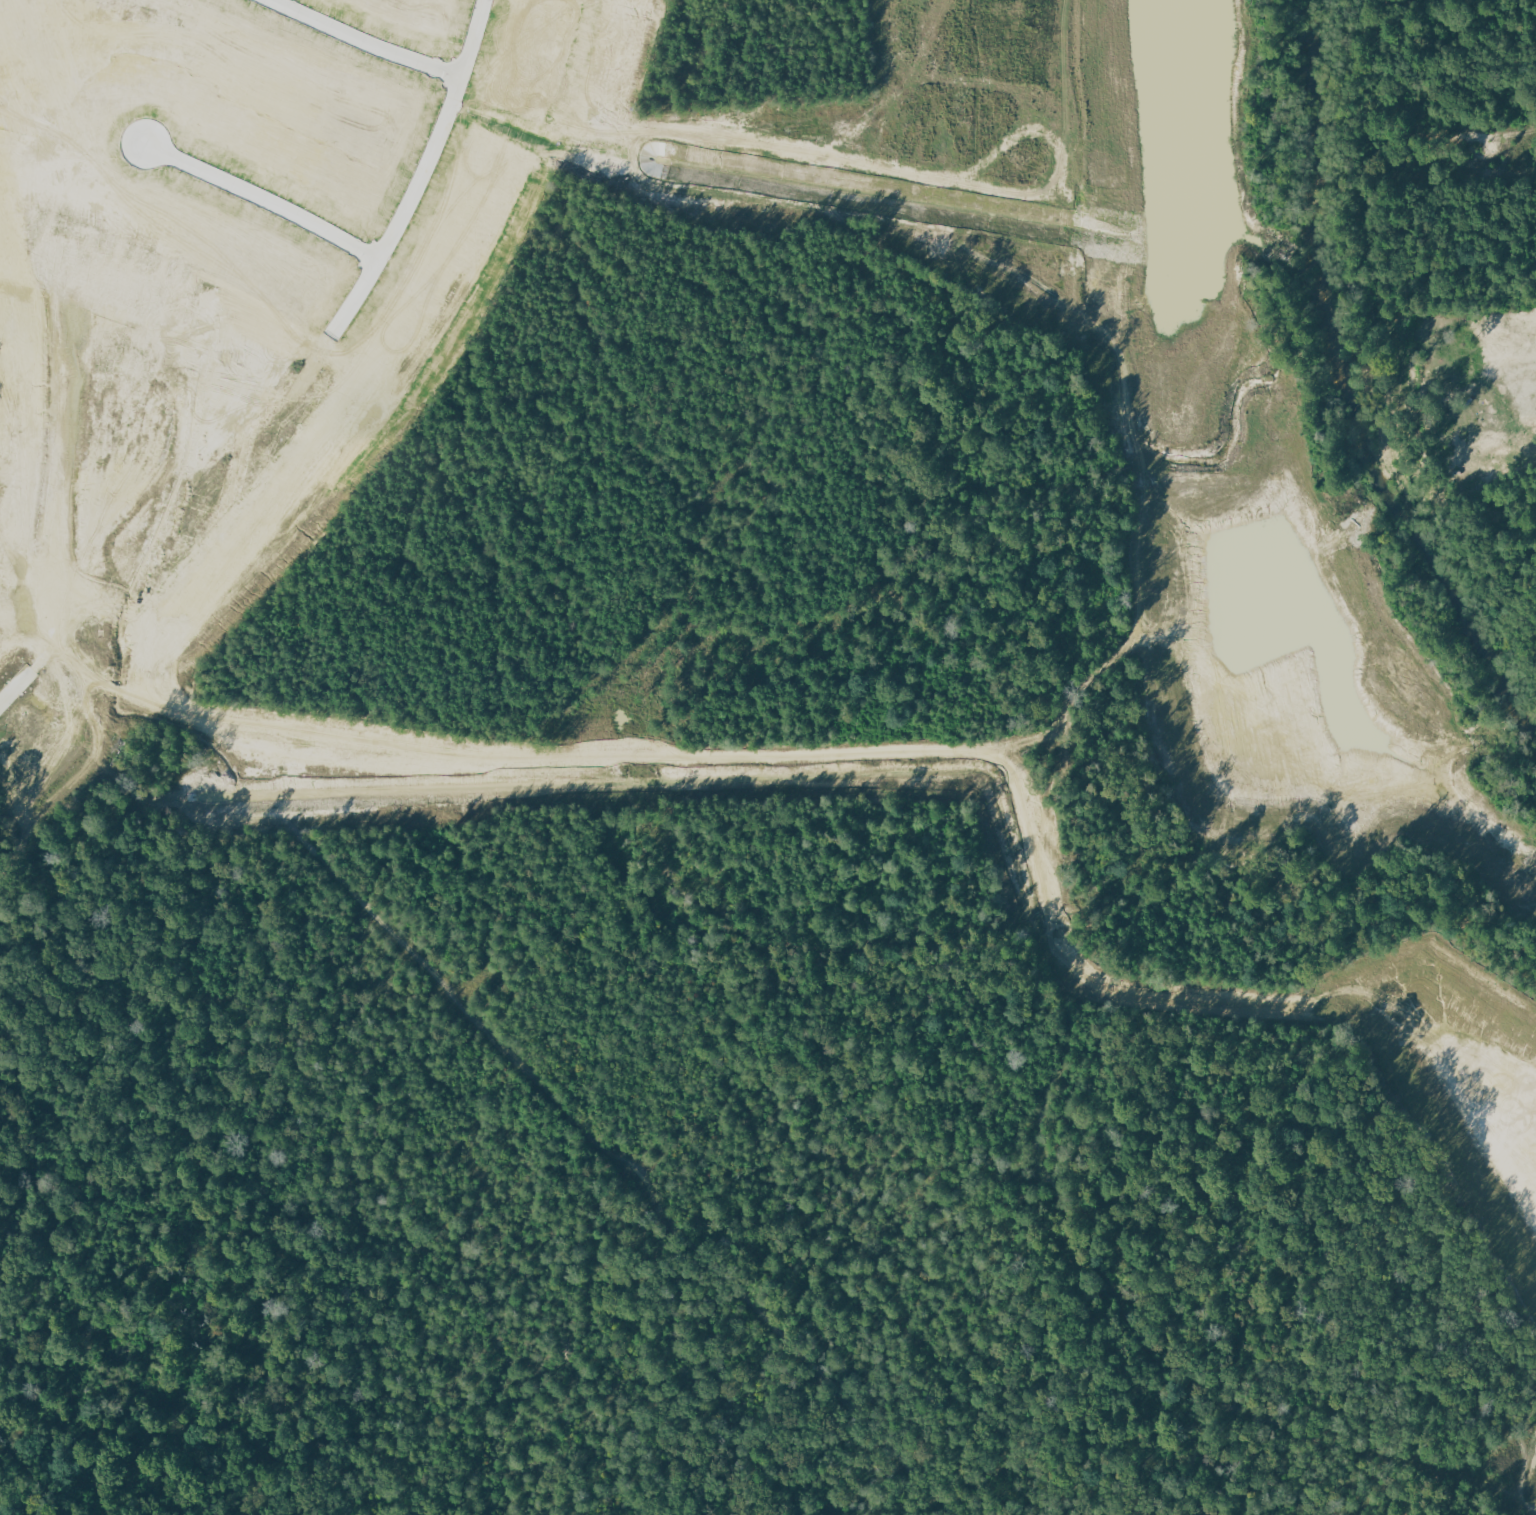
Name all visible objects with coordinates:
road: (377, 36)
road: (261, 198)
road: (143, 327)
road: (290, 383)
river: (1348, 387)
road: (380, 492)
road: (48, 568)
road: (157, 846)

